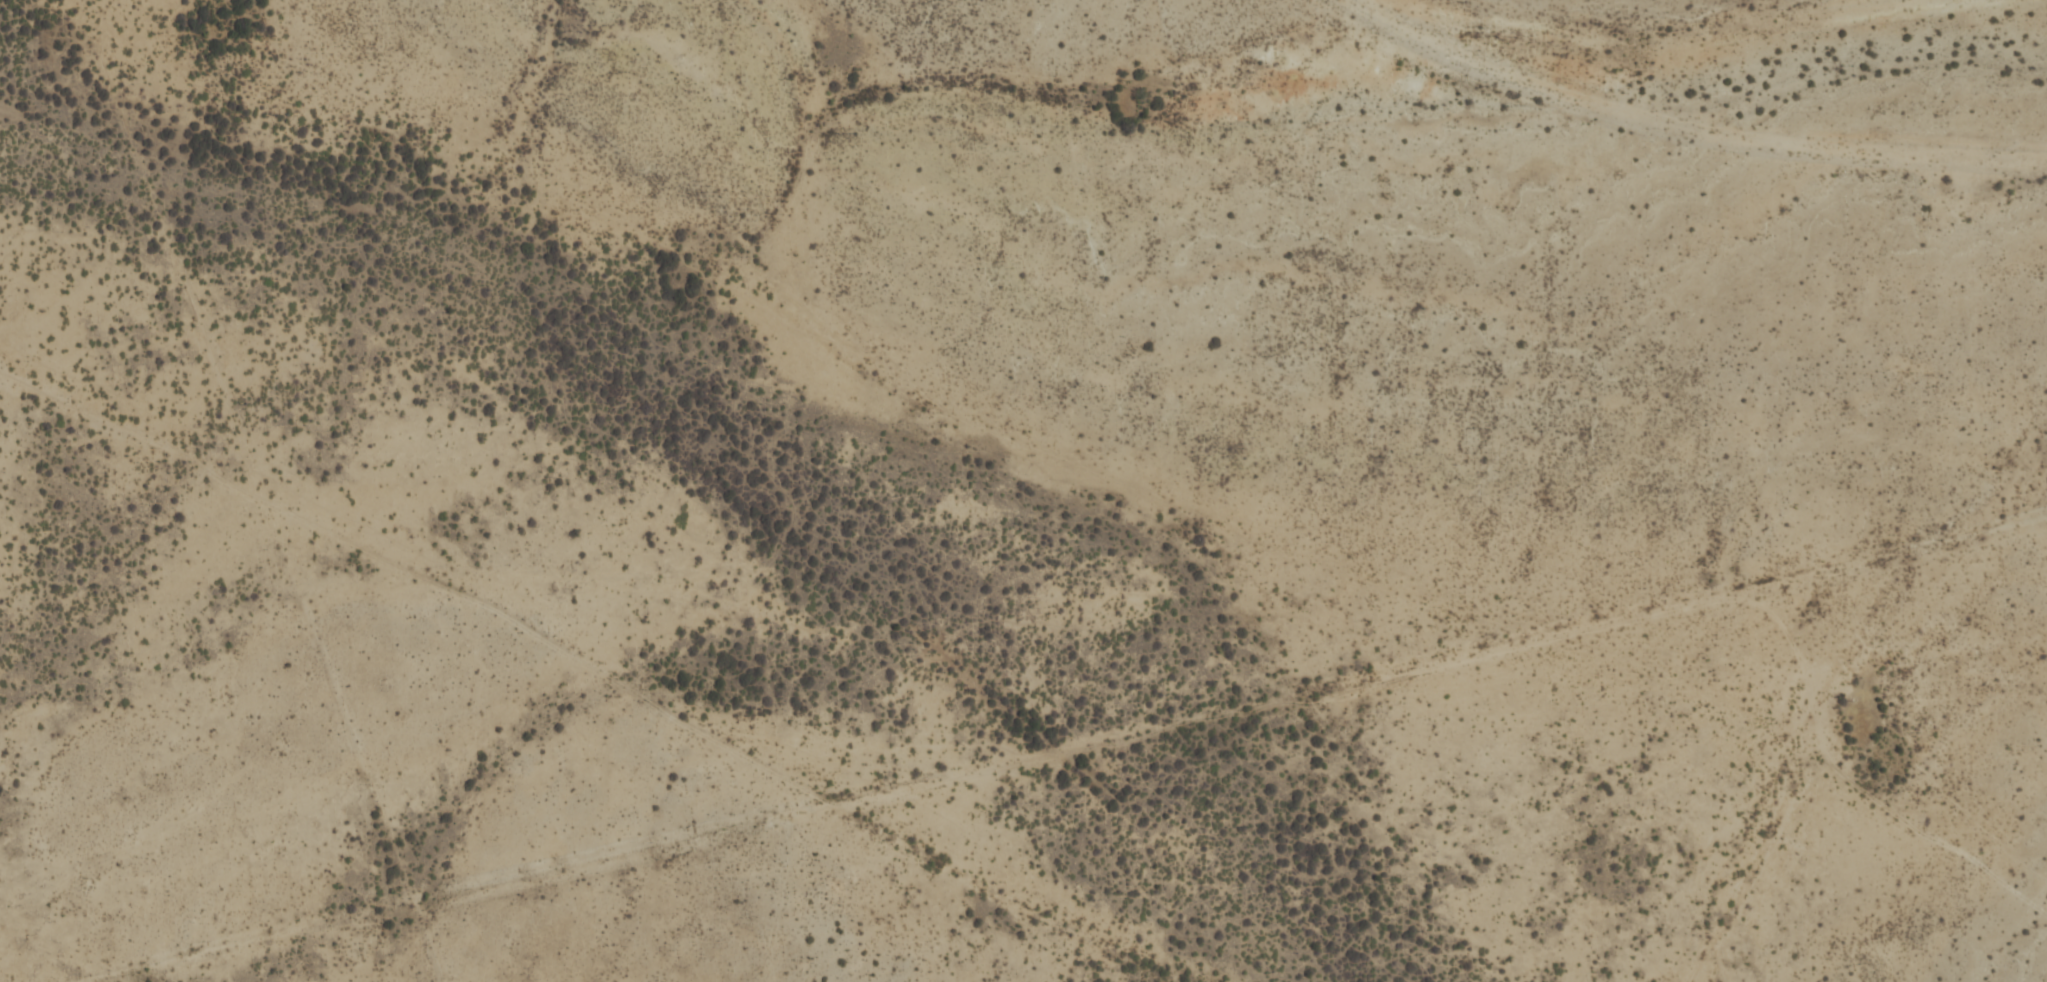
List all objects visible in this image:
road: (1902, 820)

